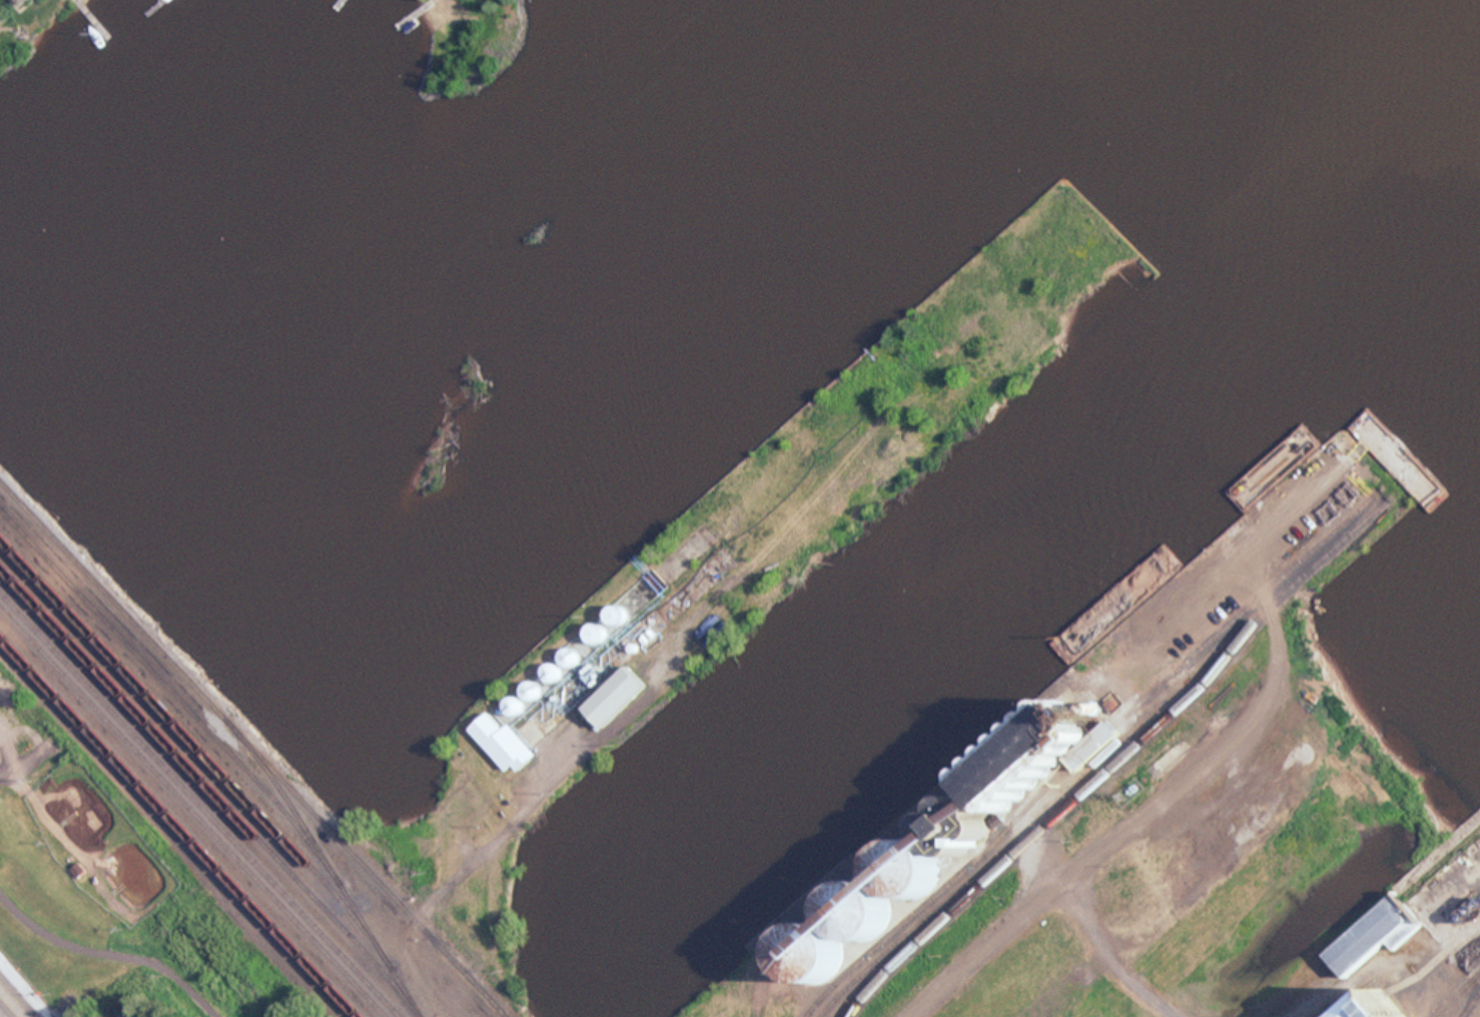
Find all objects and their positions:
building: (7, 1)
pier: (343, 9)
pier: (747, 552)
railway: (159, 662)
railway: (189, 733)
railway: (256, 742)
road: (47, 751)
railway: (1085, 752)
railway: (228, 753)
railway: (1119, 762)
railway: (208, 781)
pier: (1102, 789)
railway: (202, 804)
railway: (195, 812)
road: (1147, 813)
railway: (189, 818)
railway: (316, 826)
road: (503, 831)
pier: (1335, 906)
building: (1367, 936)
park: (128, 943)
railway: (892, 944)
road: (114, 953)
road: (3, 990)
road: (3, 993)
road: (15, 1006)
road: (1470, 1007)
road: (71, 1016)

